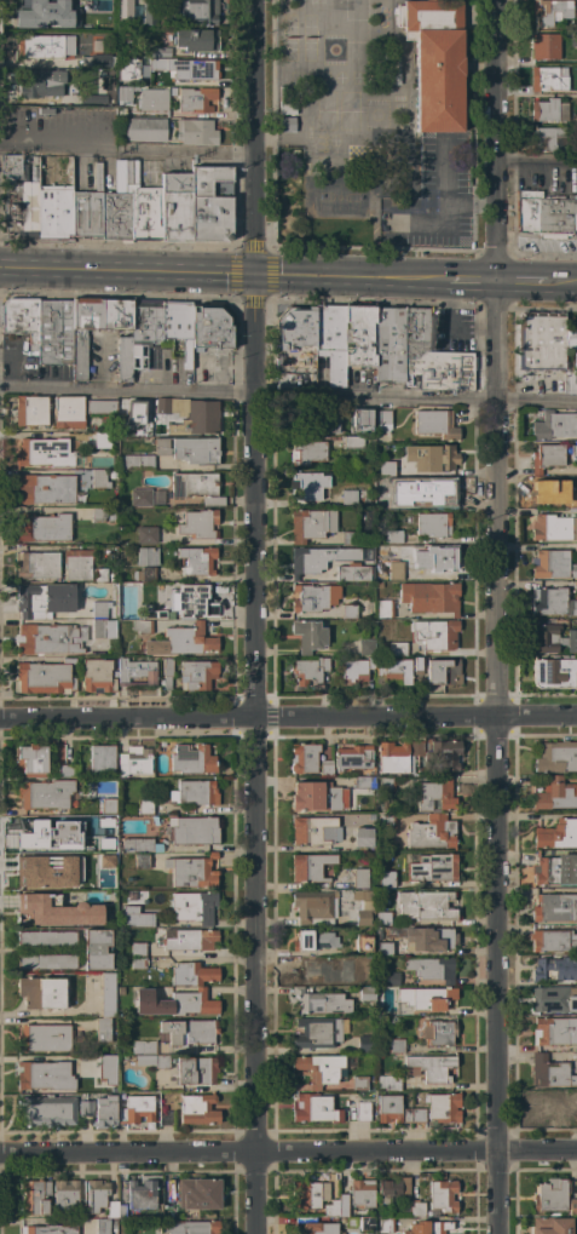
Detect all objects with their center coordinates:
building: (122, 10)
building: (33, 11)
building: (198, 12)
building: (552, 12)
building: (156, 13)
building: (96, 27)
building: (195, 39)
building: (39, 46)
building: (544, 46)
building: (160, 52)
building: (100, 61)
building: (435, 62)
building: (144, 69)
building: (201, 69)
building: (391, 70)
building: (550, 79)
building: (39, 84)
building: (173, 91)
building: (287, 92)
building: (125, 94)
building: (90, 99)
building: (152, 99)
building: (195, 99)
building: (287, 107)
building: (45, 110)
building: (548, 110)
building: (121, 111)
building: (285, 124)
building: (145, 130)
building: (195, 131)
road: (250, 137)
building: (550, 138)
road: (491, 140)
road: (126, 154)
road: (533, 165)
building: (41, 180)
road: (444, 195)
building: (18, 200)
building: (57, 200)
building: (210, 203)
building: (175, 206)
building: (88, 208)
building: (131, 210)
building: (546, 214)
road: (126, 272)
traffic signals: (252, 276)
road: (346, 279)
road: (466, 281)
road: (518, 282)
road: (561, 282)
building: (19, 315)
building: (115, 315)
building: (178, 327)
building: (210, 327)
building: (54, 332)
building: (144, 333)
building: (82, 334)
building: (359, 337)
building: (295, 340)
building: (544, 340)
building: (330, 341)
building: (388, 345)
building: (125, 358)
building: (432, 360)
building: (569, 381)
road: (288, 396)
building: (100, 407)
building: (30, 411)
building: (68, 412)
building: (187, 415)
building: (358, 418)
building: (325, 419)
building: (382, 421)
building: (434, 424)
building: (553, 425)
building: (96, 440)
building: (112, 440)
building: (352, 442)
building: (160, 446)
building: (573, 449)
building: (196, 450)
building: (44, 452)
building: (306, 452)
building: (431, 458)
building: (546, 458)
building: (137, 463)
building: (386, 469)
building: (100, 478)
building: (81, 480)
building: (192, 484)
building: (307, 484)
building: (45, 489)
building: (438, 490)
building: (554, 494)
building: (157, 497)
road: (252, 497)
building: (139, 498)
building: (348, 498)
building: (213, 501)
building: (397, 503)
building: (98, 513)
building: (110, 516)
building: (197, 524)
building: (310, 524)
building: (433, 524)
building: (41, 527)
building: (553, 528)
building: (146, 535)
building: (393, 536)
building: (350, 538)
building: (146, 556)
building: (433, 558)
building: (308, 559)
building: (196, 561)
building: (549, 563)
building: (37, 564)
building: (76, 564)
building: (394, 564)
building: (573, 570)
building: (352, 572)
building: (99, 574)
building: (144, 574)
building: (307, 597)
building: (429, 597)
building: (44, 599)
building: (191, 602)
building: (549, 602)
building: (383, 608)
building: (573, 608)
building: (98, 609)
building: (348, 612)
building: (151, 613)
building: (142, 626)
building: (103, 629)
building: (435, 635)
building: (307, 636)
building: (48, 638)
building: (187, 639)
building: (552, 639)
building: (365, 647)
building: (396, 648)
building: (416, 666)
building: (307, 670)
building: (356, 670)
building: (443, 671)
building: (166, 672)
building: (135, 673)
building: (197, 673)
building: (392, 673)
building: (553, 673)
building: (97, 676)
building: (44, 677)
road: (536, 716)
road: (247, 718)
building: (415, 748)
building: (443, 754)
road: (494, 757)
building: (556, 757)
building: (302, 758)
building: (352, 758)
building: (393, 758)
building: (102, 759)
building: (132, 759)
building: (191, 759)
building: (30, 761)
building: (324, 768)
building: (68, 770)
building: (364, 781)
building: (386, 786)
building: (195, 792)
building: (46, 794)
building: (555, 794)
building: (434, 796)
building: (315, 797)
building: (108, 805)
building: (144, 807)
building: (387, 822)
building: (191, 830)
building: (315, 830)
building: (45, 832)
building: (432, 832)
building: (556, 834)
building: (362, 837)
building: (100, 839)
building: (137, 845)
building: (100, 861)
building: (140, 861)
building: (310, 867)
building: (431, 867)
building: (555, 869)
building: (191, 871)
building: (45, 874)
building: (360, 878)
building: (383, 883)
building: (102, 906)
building: (426, 906)
building: (194, 907)
building: (555, 907)
building: (312, 908)
building: (363, 908)
building: (44, 909)
building: (135, 917)
building: (382, 918)
road: (252, 934)
building: (46, 939)
building: (429, 939)
building: (187, 940)
building: (313, 941)
building: (553, 941)
building: (362, 943)
building: (137, 948)
building: (383, 948)
building: (97, 949)
building: (46, 962)
building: (137, 963)
building: (363, 964)
building: (431, 969)
building: (554, 969)
building: (311, 972)
building: (191, 974)
building: (391, 978)
building: (41, 992)
building: (106, 993)
building: (367, 993)
building: (426, 998)
building: (552, 999)
building: (321, 1001)
building: (174, 1003)
road: (52, 1014)
building: (103, 1029)
building: (189, 1031)
building: (555, 1031)
building: (316, 1032)
building: (438, 1032)
building: (44, 1038)
building: (365, 1044)
building: (396, 1045)
building: (149, 1046)
building: (150, 1060)
building: (106, 1068)
building: (324, 1068)
building: (429, 1068)
building: (195, 1071)
building: (549, 1072)
building: (44, 1075)
building: (387, 1081)
building: (359, 1083)
building: (554, 1106)
building: (443, 1107)
building: (85, 1108)
building: (388, 1108)
building: (137, 1109)
building: (197, 1109)
building: (315, 1109)
building: (47, 1110)
building: (362, 1110)
building: (104, 1112)
building: (417, 1114)
building: (406, 1115)
building: (165, 1118)
road: (415, 1149)
road: (126, 1150)
building: (46, 1187)
building: (391, 1190)
road: (253, 1192)
building: (140, 1193)
building: (362, 1193)
building: (64, 1194)
building: (308, 1194)
building: (96, 1195)
building: (197, 1195)
building: (550, 1195)
building: (442, 1196)
building: (31, 1198)
building: (117, 1205)
building: (342, 1205)
building: (416, 1207)
building: (572, 1207)
building: (331, 1209)
building: (80, 1210)
building: (360, 1223)
building: (102, 1226)
building: (385, 1226)
building: (549, 1226)
building: (46, 1227)
building: (189, 1227)
building: (426, 1227)
building: (318, 1228)

